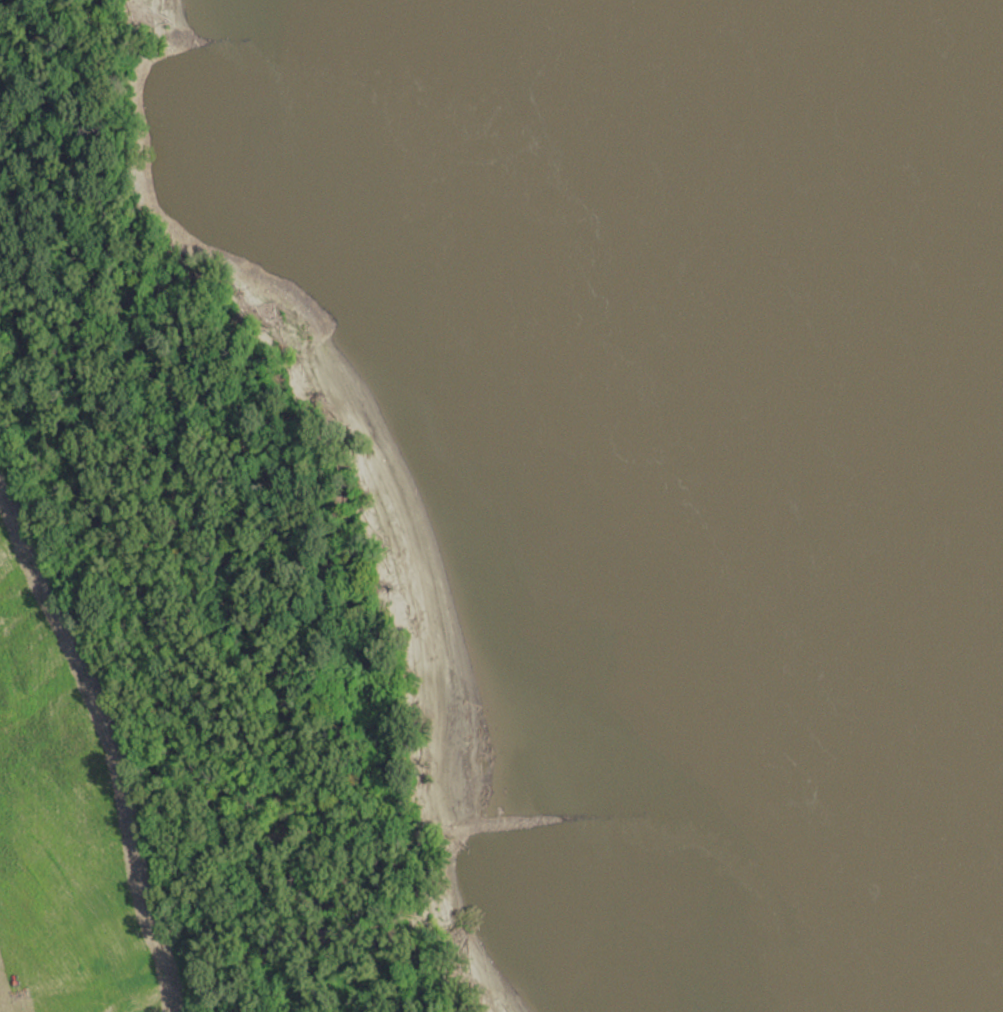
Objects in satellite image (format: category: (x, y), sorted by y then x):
river: (961, 126)
crop: (72, 813)

